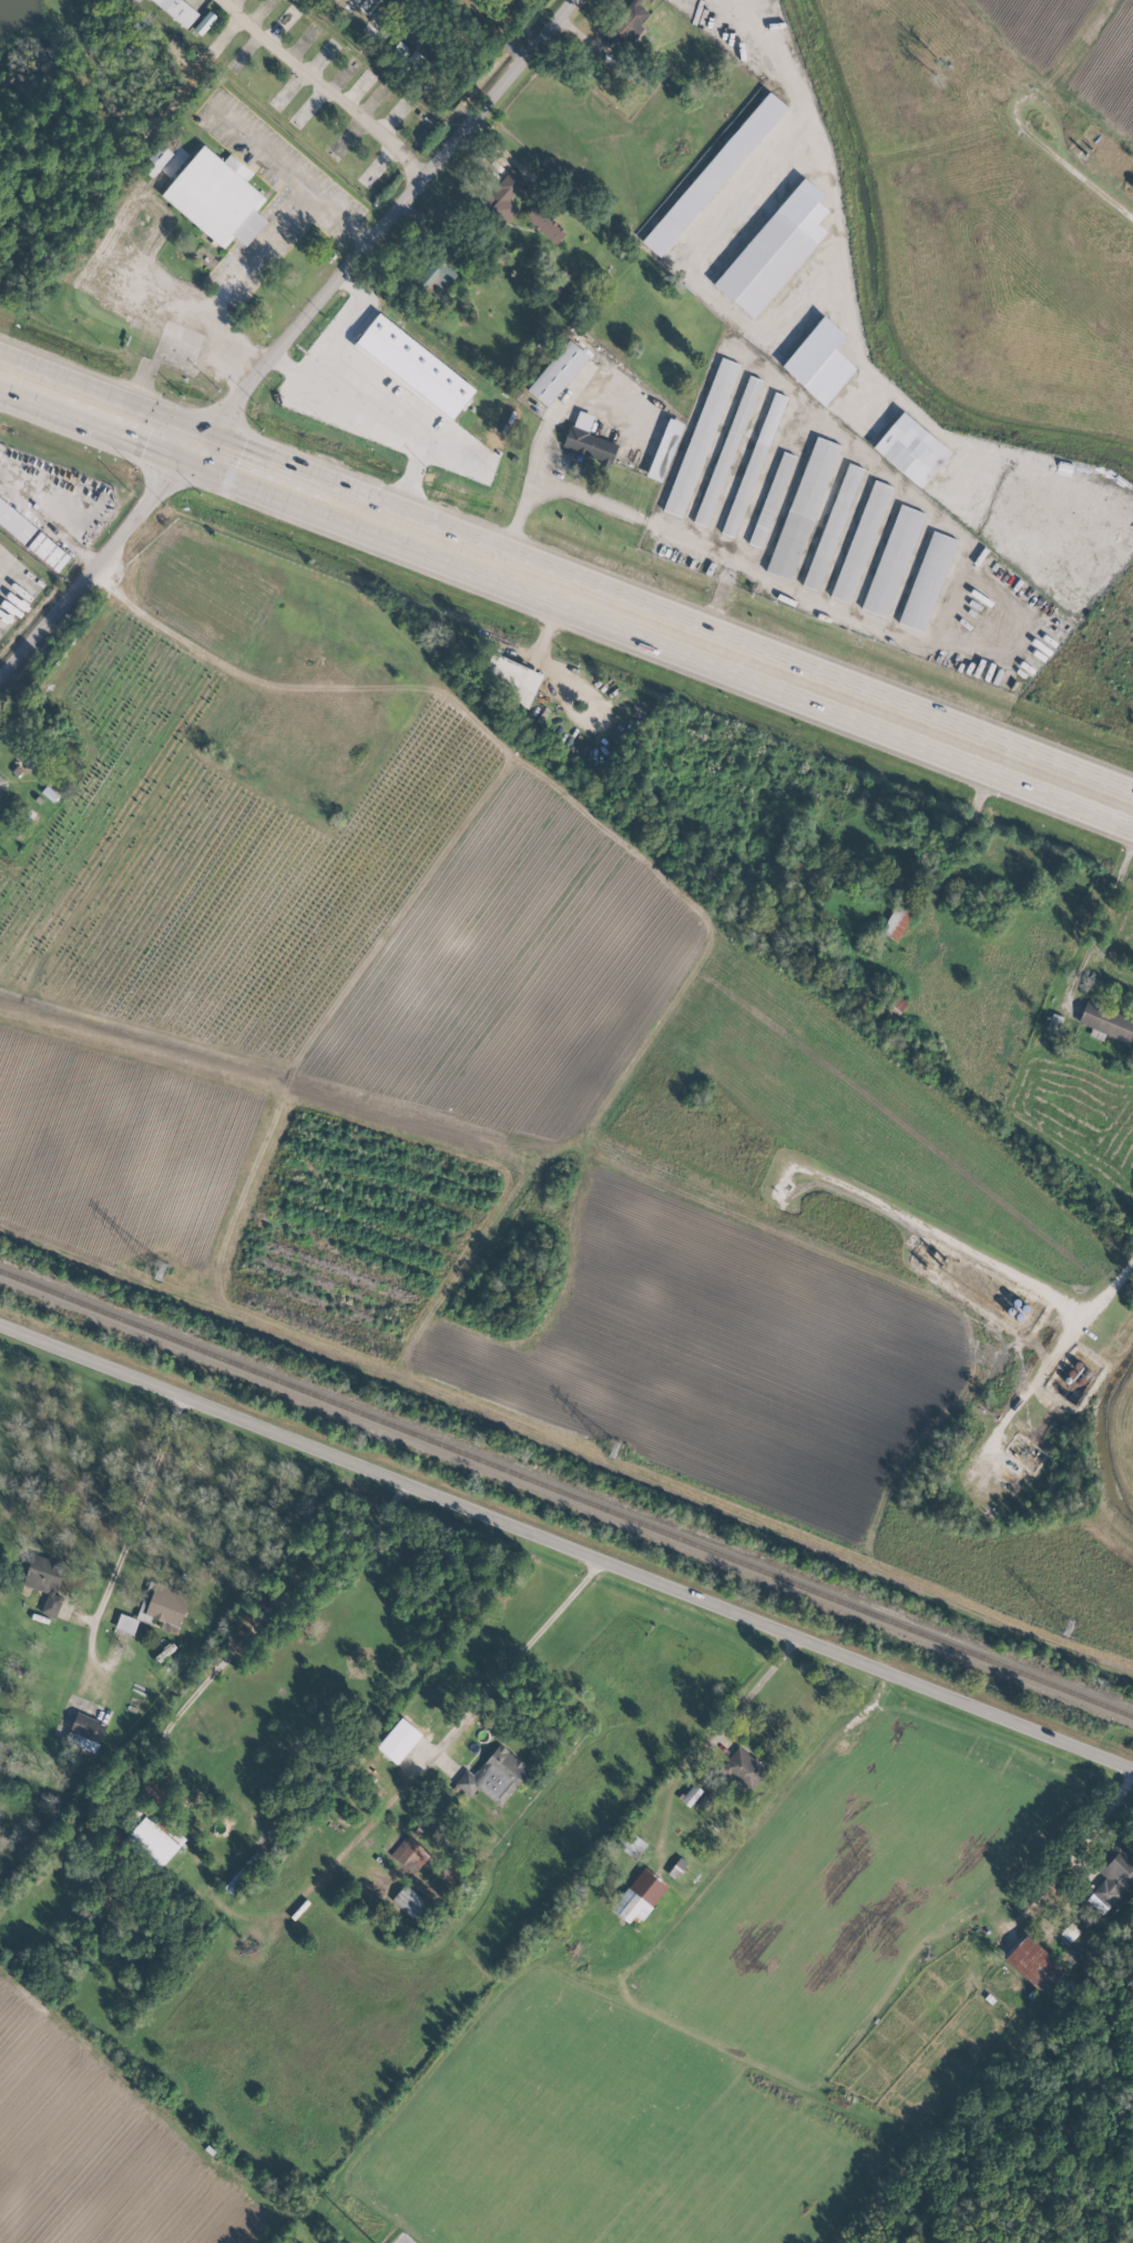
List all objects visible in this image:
building: (137, 0)
building: (337, 3)
building: (177, 10)
road: (469, 16)
building: (626, 21)
building: (204, 22)
road: (325, 90)
road: (264, 145)
building: (155, 159)
building: (713, 174)
road: (1089, 186)
building: (504, 191)
building: (216, 197)
building: (544, 224)
building: (774, 250)
road: (262, 257)
road: (853, 324)
road: (344, 327)
road: (290, 343)
building: (818, 362)
building: (414, 367)
building: (557, 373)
road: (386, 418)
building: (700, 439)
building: (586, 440)
traffic signals: (205, 447)
building: (664, 449)
building: (910, 449)
building: (726, 450)
building: (753, 464)
road: (540, 465)
building: (770, 499)
road: (55, 508)
building: (803, 508)
building: (16, 522)
road: (645, 524)
building: (831, 527)
building: (860, 540)
building: (48, 551)
building: (891, 560)
building: (927, 581)
road: (566, 586)
road: (559, 687)
building: (1, 781)
road: (1102, 914)
building: (896, 922)
building: (1105, 1022)
road: (948, 1238)
power tower: (160, 1268)
road: (1062, 1346)
power tower: (612, 1451)
railway: (566, 1493)
road: (129, 1528)
road: (566, 1544)
building: (44, 1582)
building: (166, 1607)
building: (125, 1624)
power tower: (1066, 1632)
road: (247, 1635)
road: (756, 1685)
road: (480, 1712)
building: (85, 1732)
building: (402, 1736)
building: (743, 1768)
building: (493, 1775)
road: (1098, 1818)
building: (154, 1839)
building: (629, 1843)
building: (411, 1856)
building: (1112, 1876)
building: (239, 1880)
building: (639, 1896)
building: (1069, 1932)
building: (1033, 1963)

